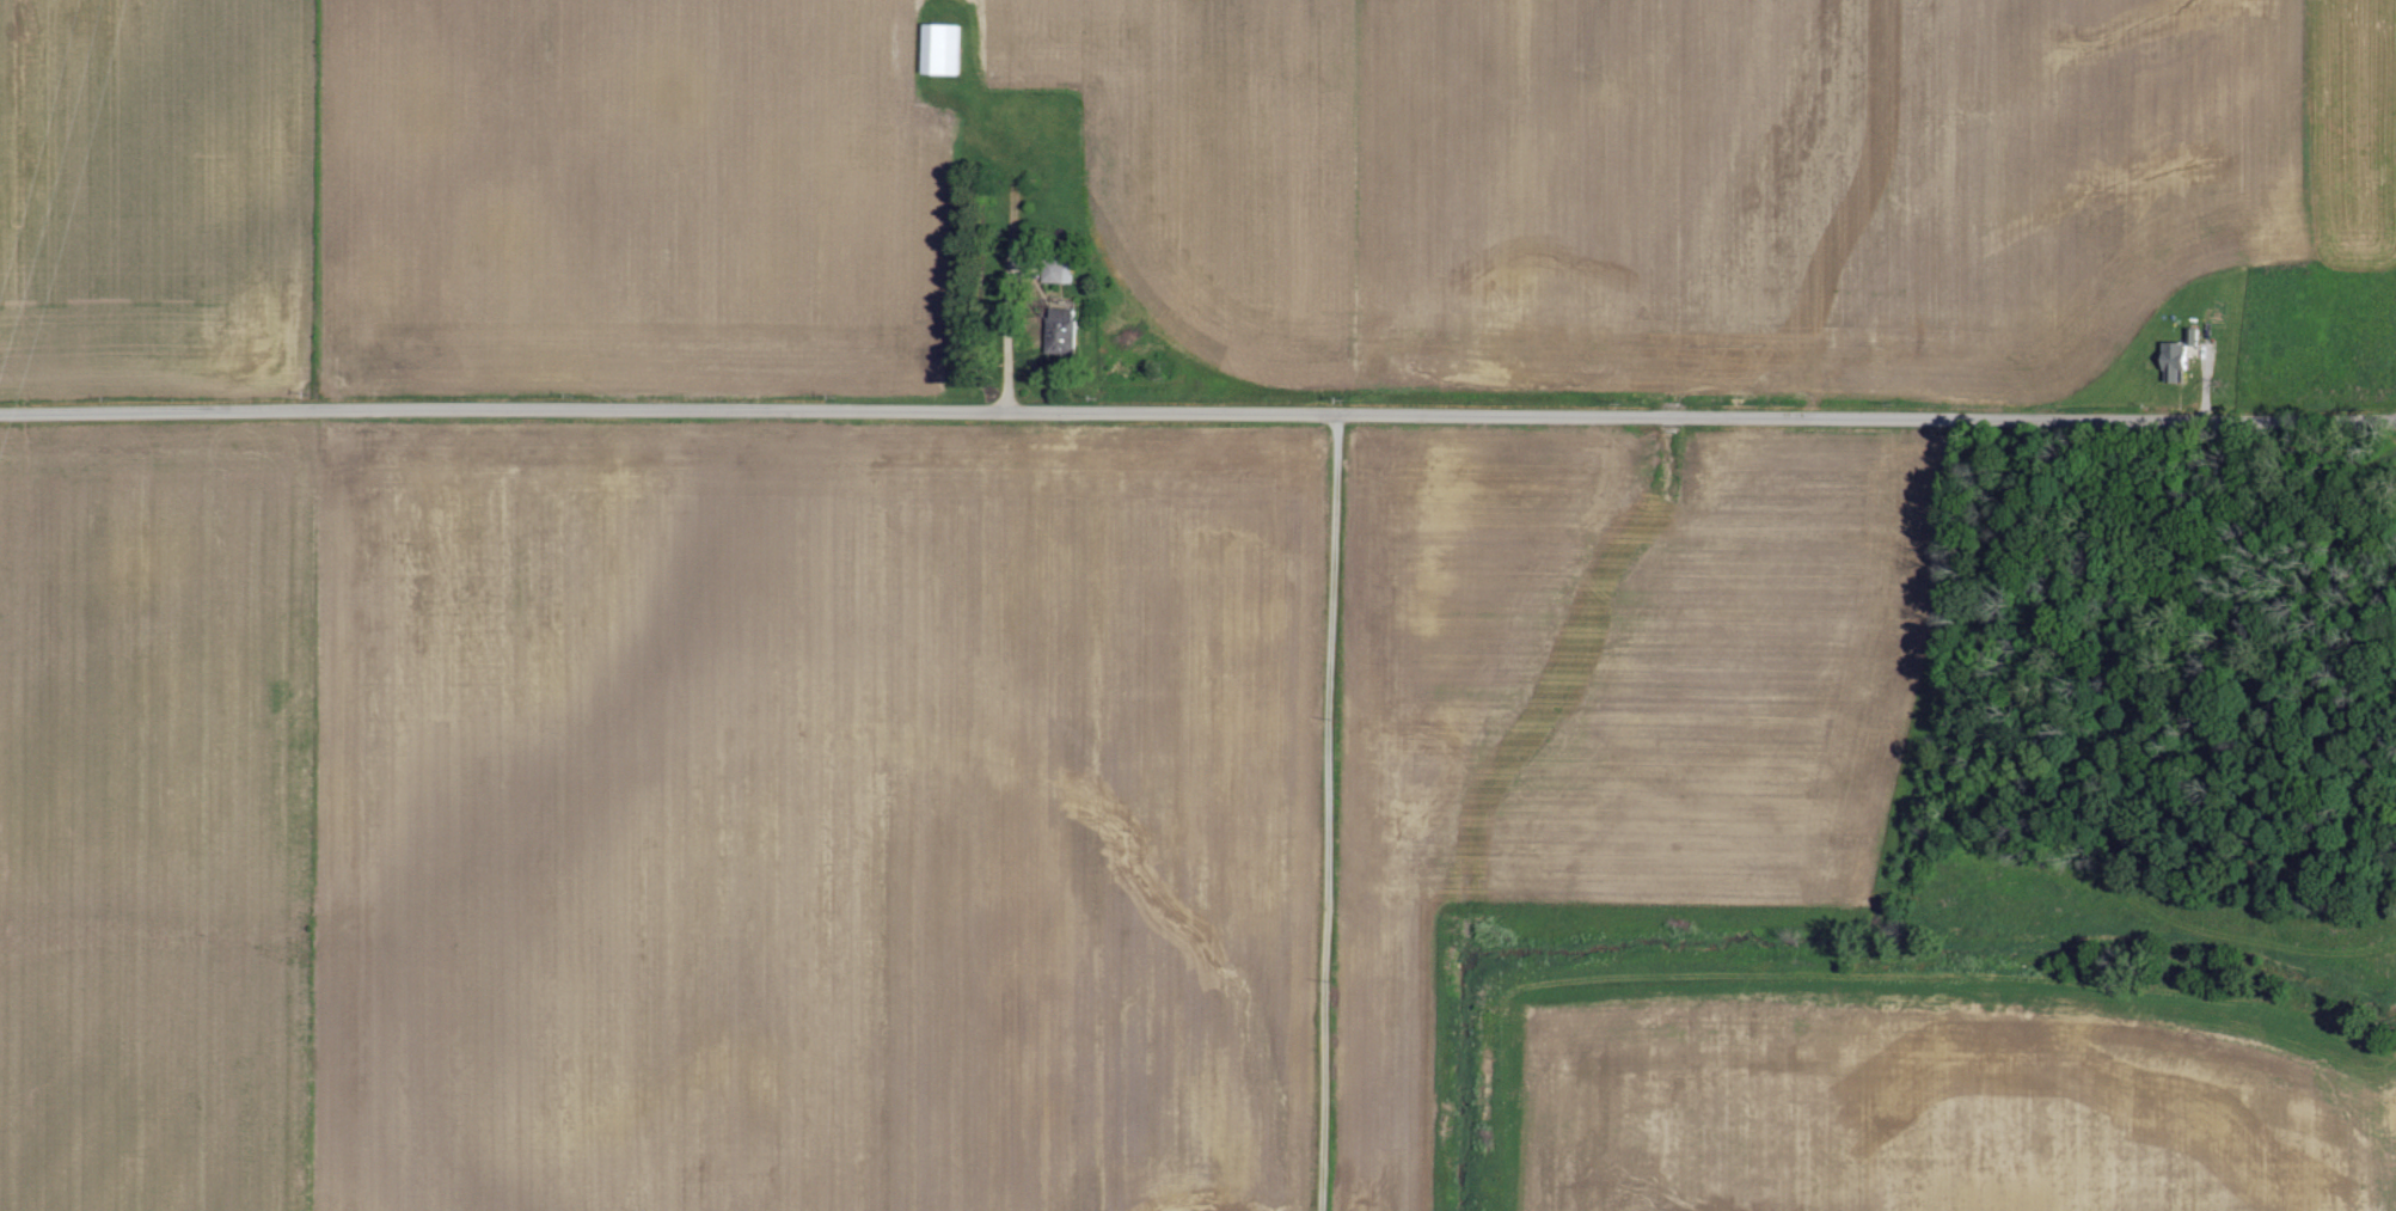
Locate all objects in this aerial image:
building: (939, 50)
building: (1055, 269)
road: (1197, 411)
road: (1331, 811)

